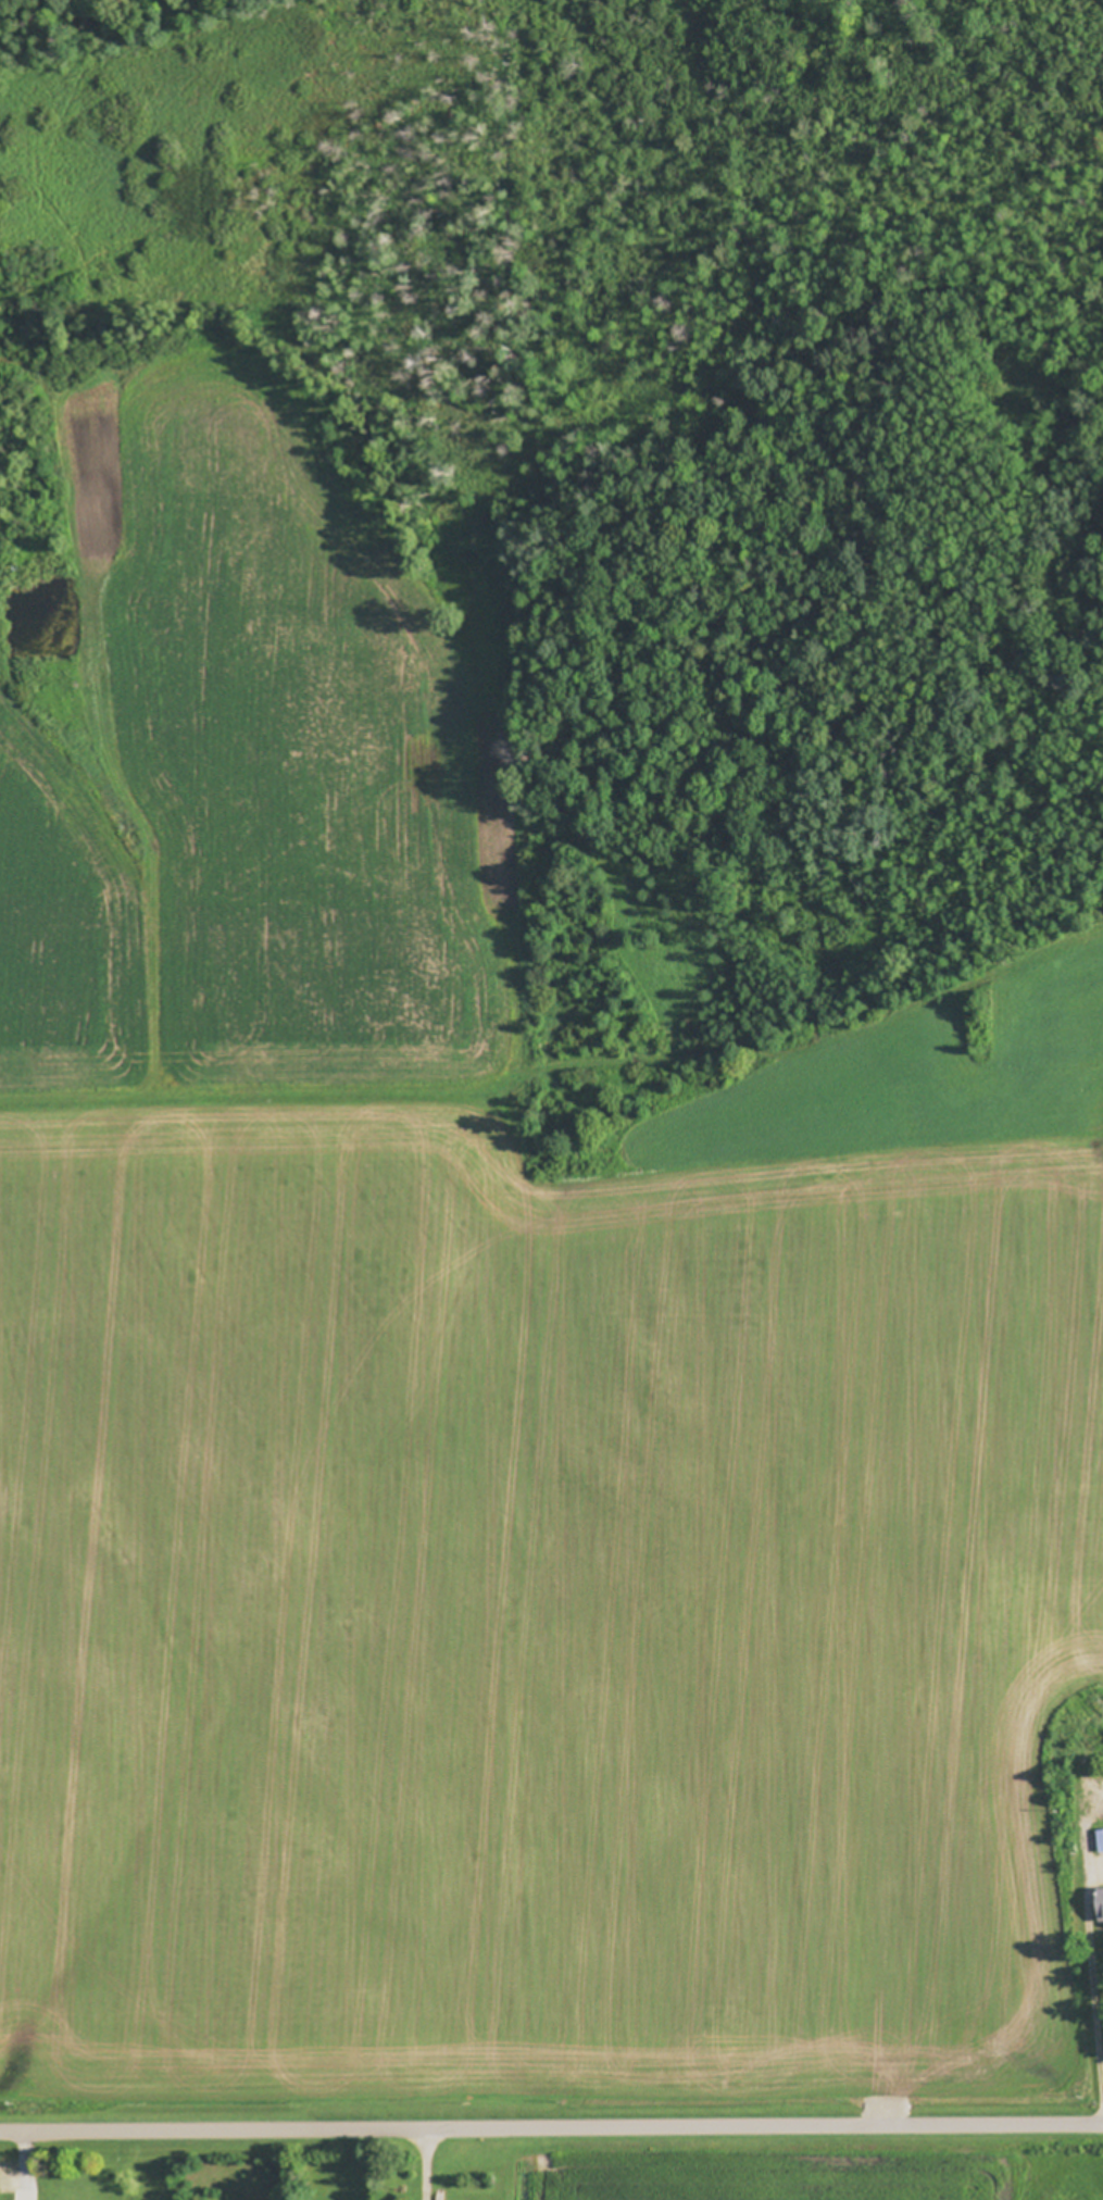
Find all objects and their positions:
building: (1101, 1838)
building: (1102, 1902)
road: (551, 2128)

